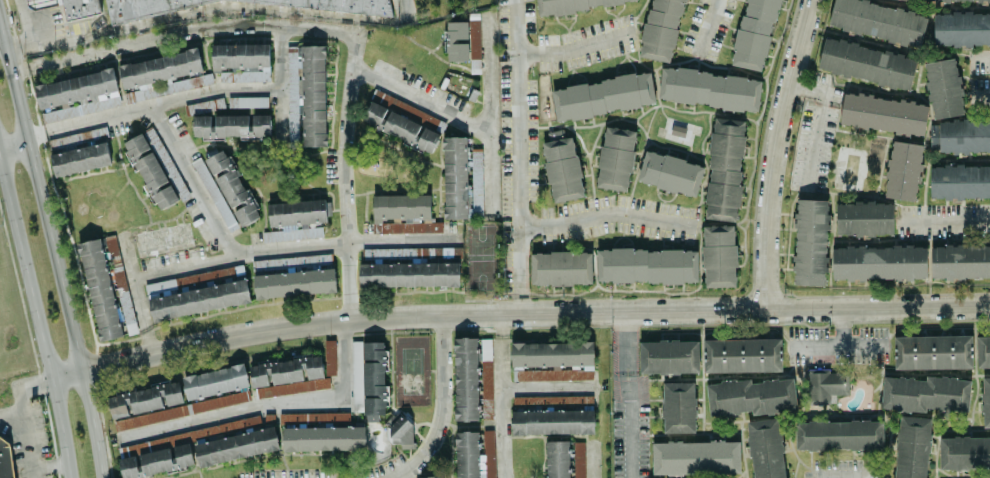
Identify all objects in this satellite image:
building: (906, 0)
building: (954, 0)
building: (572, 5)
road: (213, 6)
building: (70, 7)
road: (25, 20)
building: (878, 21)
road: (322, 27)
road: (708, 27)
building: (661, 29)
building: (961, 29)
building: (754, 34)
building: (456, 40)
building: (474, 46)
road: (577, 47)
building: (240, 55)
road: (982, 57)
building: (866, 63)
building: (160, 68)
building: (245, 75)
road: (281, 80)
building: (171, 86)
building: (944, 88)
building: (709, 89)
building: (77, 95)
building: (602, 96)
road: (981, 96)
road: (422, 100)
building: (247, 102)
road: (152, 105)
road: (490, 110)
building: (882, 114)
building: (402, 121)
road: (817, 122)
building: (231, 126)
building: (964, 136)
road: (13, 141)
road: (772, 152)
road: (519, 156)
building: (615, 158)
building: (80, 159)
building: (150, 168)
building: (562, 169)
building: (725, 169)
building: (903, 171)
building: (670, 173)
building: (461, 179)
road: (194, 180)
building: (960, 181)
building: (232, 187)
road: (41, 200)
road: (609, 213)
building: (402, 214)
building: (864, 218)
building: (295, 220)
road: (946, 222)
building: (810, 242)
road: (292, 247)
building: (719, 256)
building: (289, 261)
building: (960, 261)
building: (879, 262)
building: (647, 265)
building: (560, 268)
building: (408, 274)
building: (294, 283)
building: (100, 289)
road: (139, 298)
road: (532, 312)
building: (128, 316)
road: (38, 321)
road: (627, 336)
road: (835, 348)
road: (863, 348)
building: (983, 351)
building: (932, 352)
building: (742, 355)
building: (329, 357)
building: (669, 357)
building: (552, 361)
building: (486, 362)
road: (625, 374)
road: (629, 374)
road: (66, 376)
building: (288, 376)
building: (466, 378)
building: (368, 379)
building: (215, 381)
building: (826, 385)
road: (548, 387)
building: (924, 393)
road: (502, 396)
building: (750, 396)
building: (144, 398)
building: (985, 401)
road: (267, 403)
road: (442, 405)
building: (678, 407)
building: (185, 409)
road: (11, 415)
road: (22, 415)
building: (338, 416)
building: (549, 416)
road: (92, 424)
building: (402, 430)
road: (628, 432)
building: (838, 434)
building: (323, 438)
building: (911, 447)
building: (766, 448)
building: (194, 449)
building: (964, 452)
building: (473, 453)
building: (695, 457)
road: (591, 458)
building: (564, 459)
building: (6, 462)
road: (48, 466)
road: (836, 476)
building: (430, 477)

